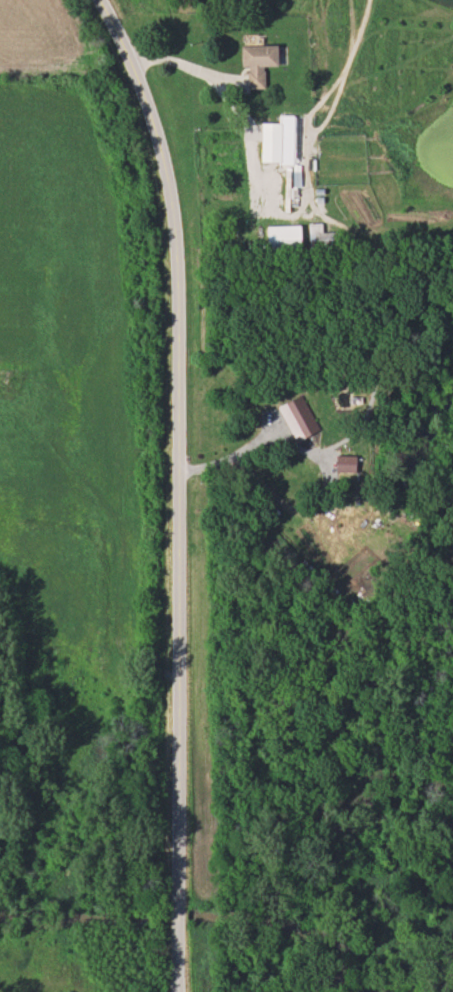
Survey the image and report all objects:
road: (190, 63)
building: (256, 63)
building: (268, 142)
building: (293, 182)
building: (282, 238)
building: (322, 241)
building: (6, 380)
road: (228, 453)
road: (181, 489)
road: (123, 535)

